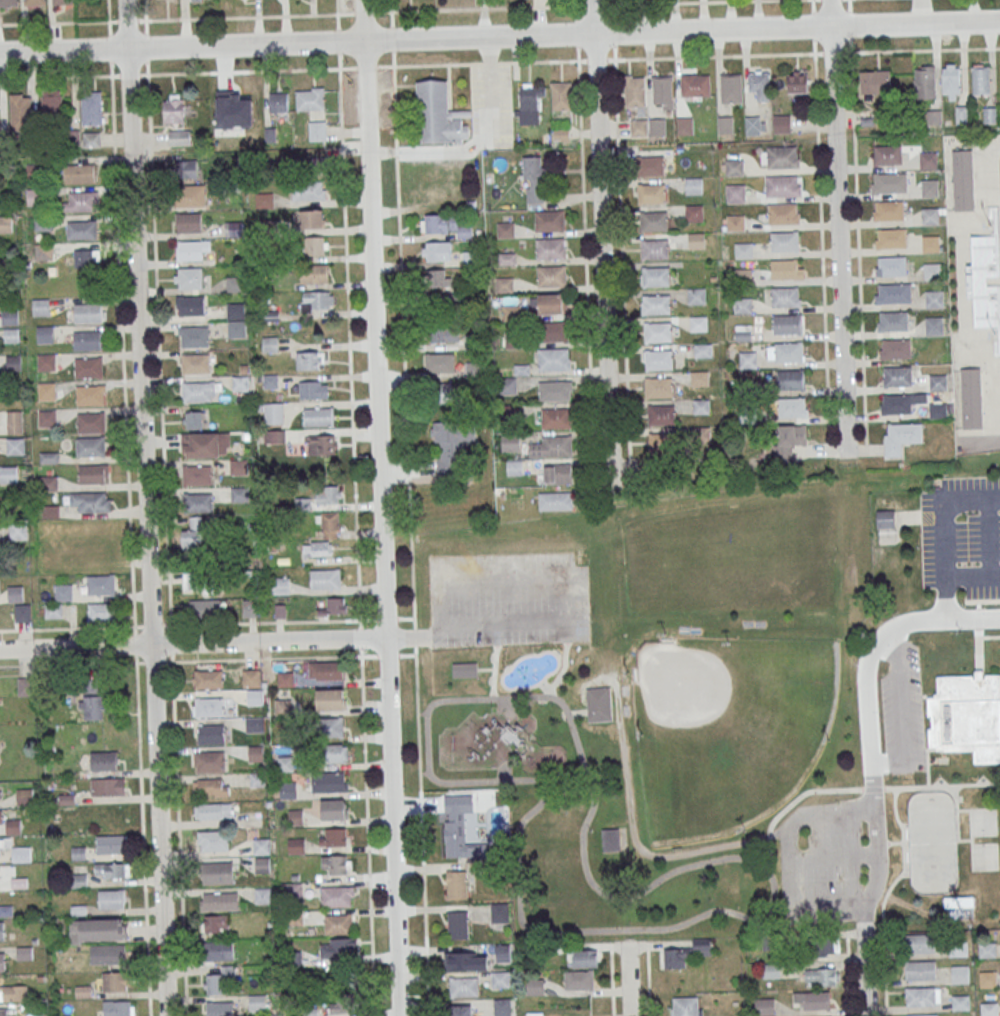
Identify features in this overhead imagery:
building: (203, 0)
building: (34, 2)
building: (8, 3)
road: (336, 7)
road: (108, 10)
road: (145, 10)
road: (201, 18)
road: (613, 29)
road: (576, 30)
road: (499, 36)
road: (907, 50)
road: (741, 55)
road: (307, 68)
building: (980, 79)
building: (799, 81)
building: (875, 81)
building: (951, 81)
building: (924, 82)
building: (695, 84)
building: (760, 84)
building: (732, 88)
building: (635, 91)
building: (663, 92)
building: (561, 96)
building: (531, 97)
building: (310, 98)
building: (278, 102)
building: (52, 103)
building: (238, 104)
building: (91, 108)
building: (175, 109)
building: (21, 111)
building: (439, 114)
building: (961, 115)
building: (934, 117)
building: (781, 123)
building: (726, 124)
building: (685, 125)
building: (755, 125)
building: (657, 127)
building: (317, 130)
building: (561, 133)
building: (179, 137)
building: (91, 139)
building: (887, 154)
building: (782, 157)
building: (927, 160)
building: (650, 165)
building: (734, 167)
building: (188, 168)
building: (79, 173)
building: (534, 179)
building: (962, 179)
building: (890, 183)
building: (694, 186)
building: (783, 186)
building: (928, 188)
building: (308, 190)
building: (736, 192)
building: (651, 194)
building: (190, 195)
building: (264, 199)
building: (84, 200)
building: (889, 209)
building: (694, 212)
building: (782, 213)
building: (930, 215)
building: (312, 219)
building: (549, 219)
road: (821, 219)
building: (654, 221)
building: (189, 222)
building: (736, 222)
building: (5, 224)
building: (444, 225)
road: (838, 226)
road: (857, 227)
building: (233, 228)
building: (506, 229)
building: (81, 230)
road: (600, 238)
building: (892, 238)
building: (696, 240)
building: (784, 241)
building: (930, 243)
building: (314, 245)
building: (551, 248)
building: (655, 249)
building: (190, 250)
building: (743, 250)
building: (437, 251)
building: (86, 258)
building: (892, 265)
building: (786, 269)
building: (932, 271)
building: (314, 273)
building: (552, 275)
building: (656, 276)
building: (743, 276)
building: (188, 278)
building: (439, 278)
building: (505, 284)
building: (894, 293)
building: (696, 296)
building: (785, 297)
building: (933, 298)
building: (317, 300)
building: (553, 303)
building: (656, 305)
building: (743, 305)
building: (40, 306)
building: (190, 306)
building: (235, 311)
building: (87, 312)
building: (9, 316)
road: (348, 316)
building: (893, 321)
building: (699, 323)
building: (788, 324)
building: (933, 324)
building: (236, 328)
building: (554, 331)
building: (658, 332)
building: (444, 333)
building: (743, 333)
building: (45, 334)
building: (11, 335)
road: (403, 336)
building: (195, 337)
building: (87, 340)
building: (270, 344)
building: (896, 348)
building: (703, 350)
building: (788, 352)
building: (554, 358)
building: (659, 359)
building: (748, 359)
building: (310, 360)
building: (46, 362)
building: (440, 362)
building: (13, 363)
building: (195, 363)
building: (88, 367)
building: (474, 369)
building: (897, 376)
building: (699, 378)
building: (791, 379)
building: (937, 382)
building: (239, 383)
building: (507, 385)
building: (658, 387)
building: (46, 390)
building: (313, 390)
building: (556, 390)
building: (196, 391)
building: (444, 392)
building: (89, 395)
building: (970, 398)
building: (896, 404)
building: (795, 407)
building: (937, 410)
building: (273, 413)
building: (660, 415)
building: (318, 417)
building: (46, 418)
building: (555, 418)
building: (194, 419)
building: (14, 421)
building: (90, 422)
building: (274, 436)
building: (901, 437)
building: (510, 442)
building: (787, 442)
building: (657, 443)
building: (205, 444)
building: (321, 444)
building: (454, 445)
building: (15, 446)
building: (90, 446)
building: (552, 446)
road: (982, 446)
building: (238, 467)
building: (514, 467)
building: (93, 473)
building: (558, 473)
building: (8, 474)
building: (196, 475)
building: (239, 494)
building: (328, 494)
building: (90, 501)
building: (555, 501)
building: (198, 502)
road: (380, 507)
road: (144, 508)
park: (796, 513)
road: (945, 516)
road: (918, 517)
building: (884, 519)
building: (330, 524)
building: (18, 530)
building: (193, 533)
parking lot: (963, 537)
road: (987, 538)
building: (100, 546)
building: (320, 548)
park: (796, 550)
park: (730, 556)
park: (664, 563)
building: (63, 564)
road: (973, 577)
building: (325, 578)
building: (198, 580)
building: (100, 584)
building: (280, 585)
park: (798, 586)
building: (62, 592)
building: (14, 593)
road: (946, 599)
road: (973, 601)
parking lot: (508, 602)
road: (564, 604)
building: (335, 607)
building: (207, 608)
building: (249, 608)
building: (52, 610)
building: (22, 612)
building: (101, 612)
road: (386, 618)
road: (935, 621)
road: (66, 627)
road: (979, 628)
road: (192, 644)
road: (979, 653)
road: (388, 655)
road: (360, 656)
road: (68, 664)
road: (485, 668)
road: (562, 668)
building: (463, 669)
building: (325, 670)
road: (493, 677)
building: (251, 678)
building: (208, 680)
building: (25, 686)
building: (254, 696)
building: (92, 699)
building: (330, 699)
building: (599, 703)
building: (209, 707)
road: (422, 713)
parking lot: (903, 713)
road: (578, 714)
road: (902, 714)
building: (967, 716)
building: (255, 724)
park: (683, 725)
building: (330, 727)
park: (729, 729)
building: (211, 735)
building: (255, 753)
building: (335, 754)
road: (927, 754)
building: (103, 760)
building: (210, 762)
road: (503, 772)
road: (424, 773)
building: (257, 779)
building: (329, 783)
building: (107, 786)
building: (210, 787)
road: (855, 791)
building: (24, 796)
building: (334, 810)
building: (213, 811)
building: (1, 818)
road: (957, 820)
road: (630, 823)
park: (982, 824)
building: (458, 826)
road: (874, 828)
road: (778, 833)
road: (367, 836)
building: (332, 837)
road: (142, 839)
building: (611, 840)
building: (215, 842)
road: (889, 843)
building: (110, 844)
park: (932, 844)
building: (296, 845)
building: (261, 846)
building: (0, 850)
building: (21, 854)
road: (903, 858)
park: (984, 858)
road: (832, 859)
road: (789, 861)
building: (335, 864)
building: (262, 865)
parking lot: (819, 867)
building: (111, 870)
building: (217, 873)
road: (660, 878)
building: (456, 884)
building: (263, 895)
building: (336, 897)
building: (111, 899)
building: (219, 902)
building: (959, 902)
building: (499, 912)
building: (216, 923)
building: (338, 924)
building: (458, 924)
building: (98, 930)
building: (2, 931)
building: (919, 943)
building: (825, 947)
building: (337, 948)
building: (958, 949)
building: (987, 950)
building: (217, 951)
building: (503, 952)
building: (24, 953)
building: (686, 953)
building: (107, 954)
building: (585, 958)
building: (2, 962)
building: (467, 962)
road: (884, 969)
building: (771, 970)
building: (919, 970)
building: (960, 976)
building: (822, 977)
road: (648, 978)
building: (500, 979)
road: (612, 979)
road: (629, 979)
building: (218, 980)
building: (579, 980)
building: (988, 980)
building: (115, 981)
road: (848, 981)
building: (464, 987)
building: (13, 993)
building: (920, 996)
building: (817, 1001)
building: (256, 1002)
building: (342, 1003)
building: (960, 1003)
building: (502, 1006)
building: (763, 1006)
building: (686, 1007)
building: (118, 1008)
building: (220, 1009)
building: (990, 1009)
building: (4, 1012)
building: (461, 1012)
building: (924, 1015)

